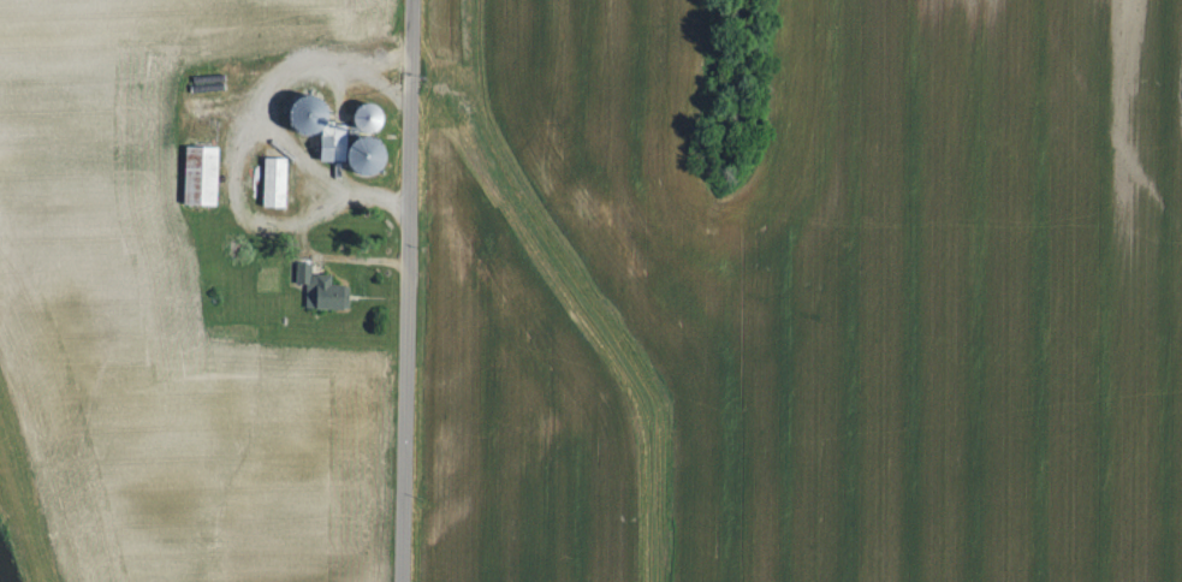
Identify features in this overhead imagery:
building: (369, 115)
building: (338, 137)
road: (304, 159)
road: (233, 166)
building: (202, 174)
building: (275, 182)
road: (362, 190)
building: (322, 289)
road: (410, 291)

